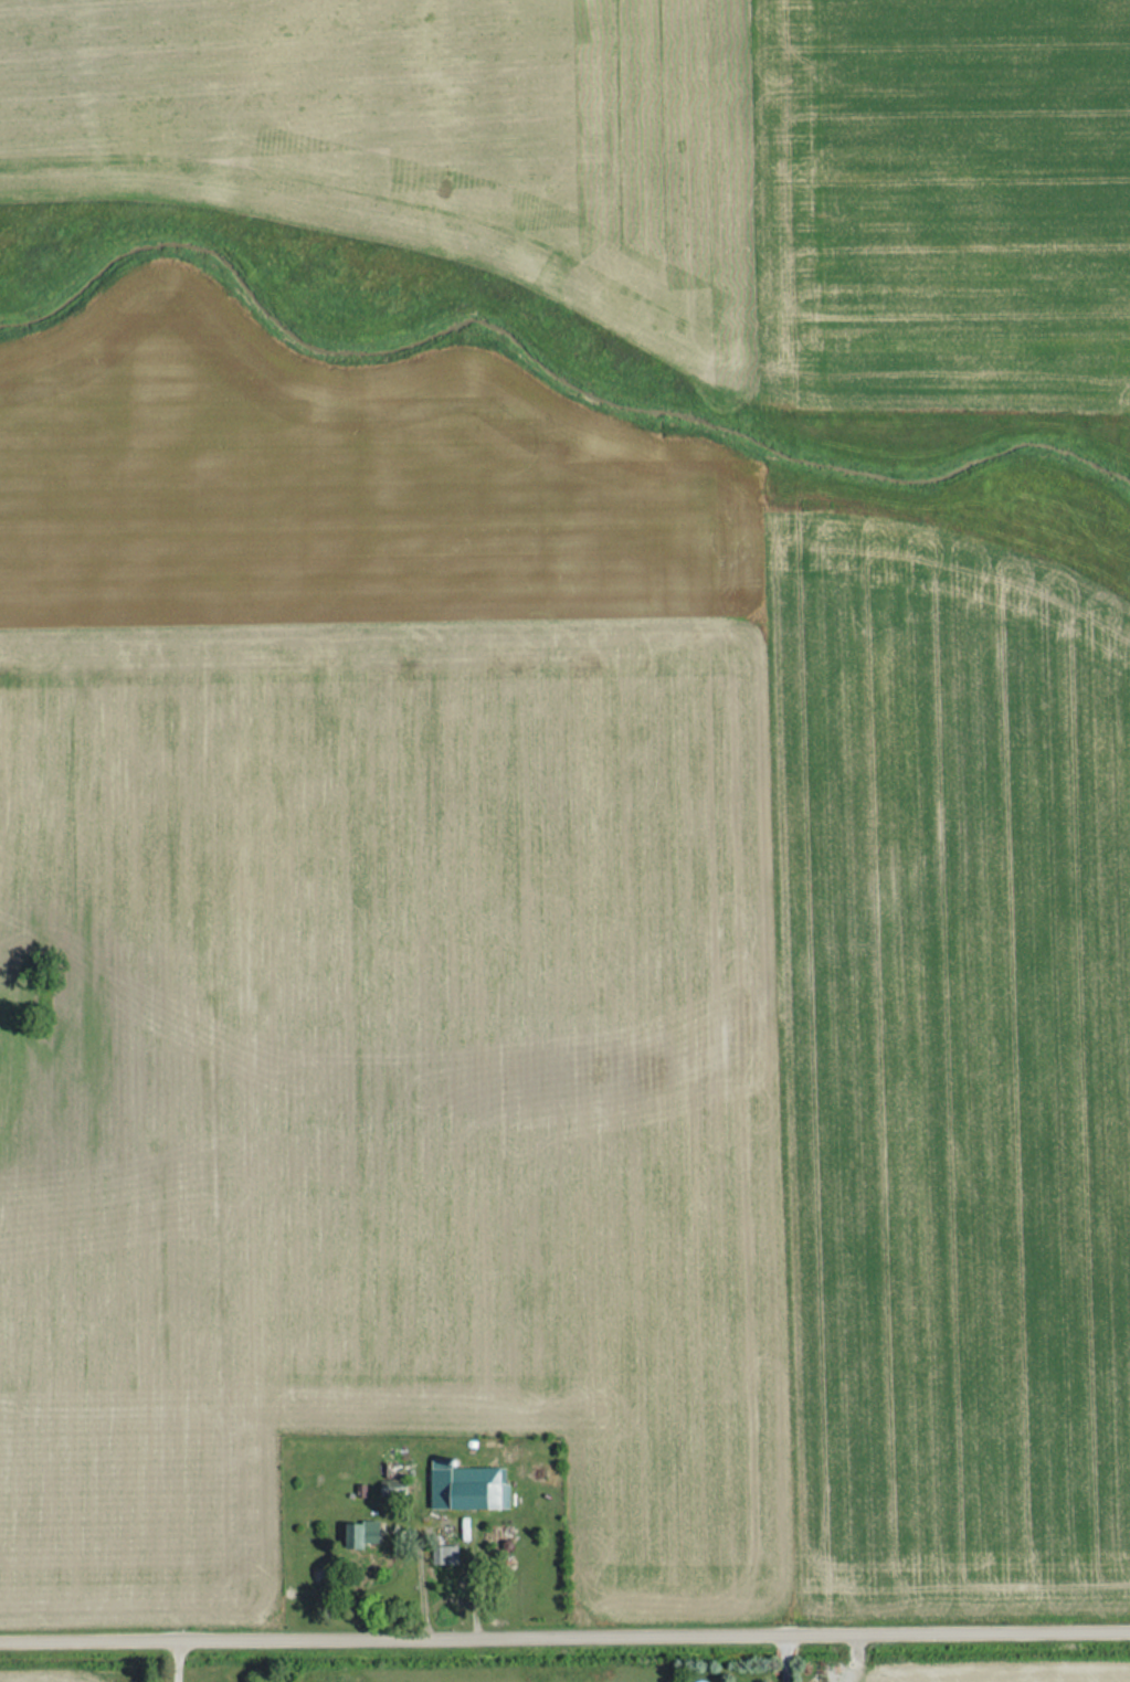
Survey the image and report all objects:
crop: (420, 134)
crop: (939, 205)
crop: (331, 488)
crop: (946, 1069)
crop: (386, 1096)
building: (387, 1484)
building: (463, 1488)
building: (355, 1535)
building: (440, 1555)
road: (564, 1637)
road: (785, 1658)
road: (179, 1662)
crop: (1011, 1672)
crop: (74, 1680)

